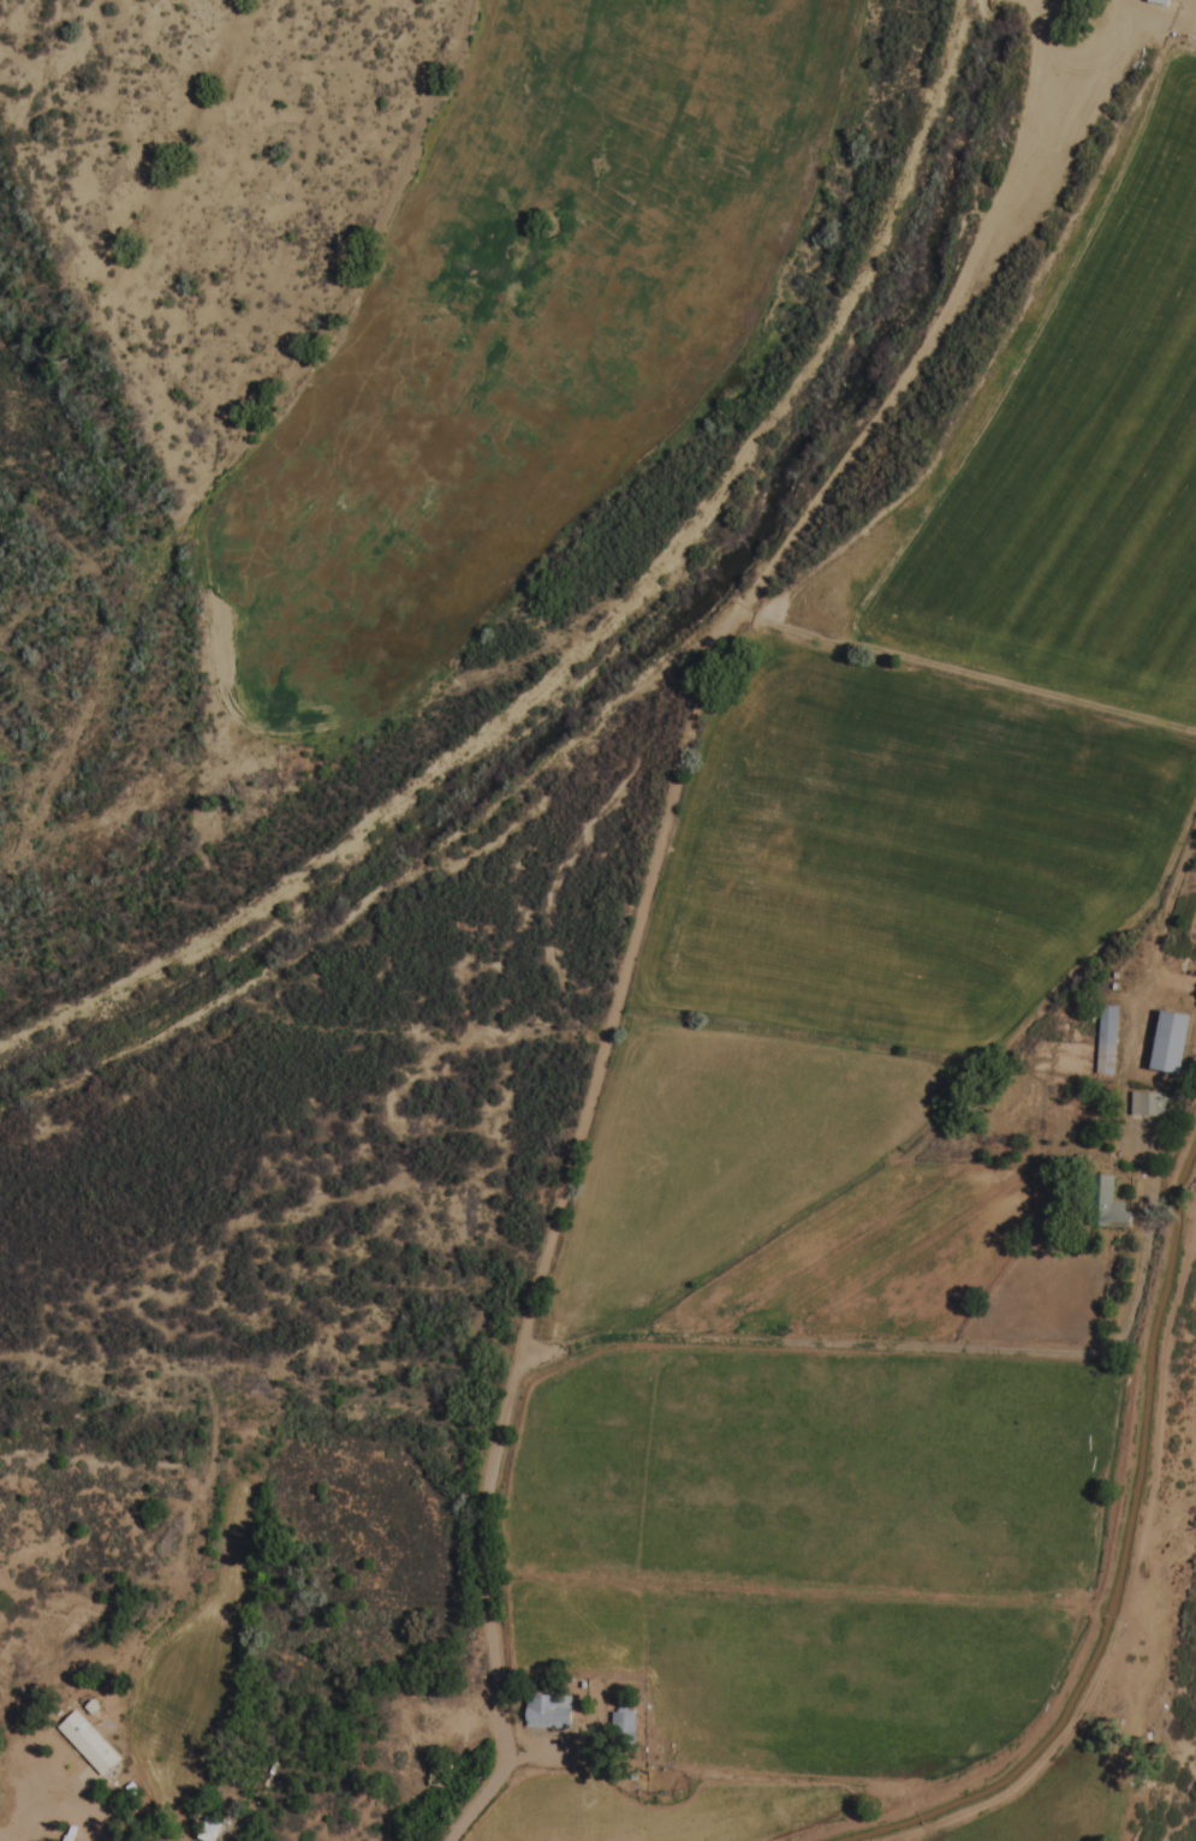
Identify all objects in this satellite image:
building: (1107, 1041)
building: (1167, 1042)
building: (1148, 1104)
building: (1112, 1213)
road: (807, 1342)
road: (514, 1368)
road: (1125, 1605)
building: (549, 1711)
building: (625, 1721)
building: (90, 1744)
building: (214, 1830)

